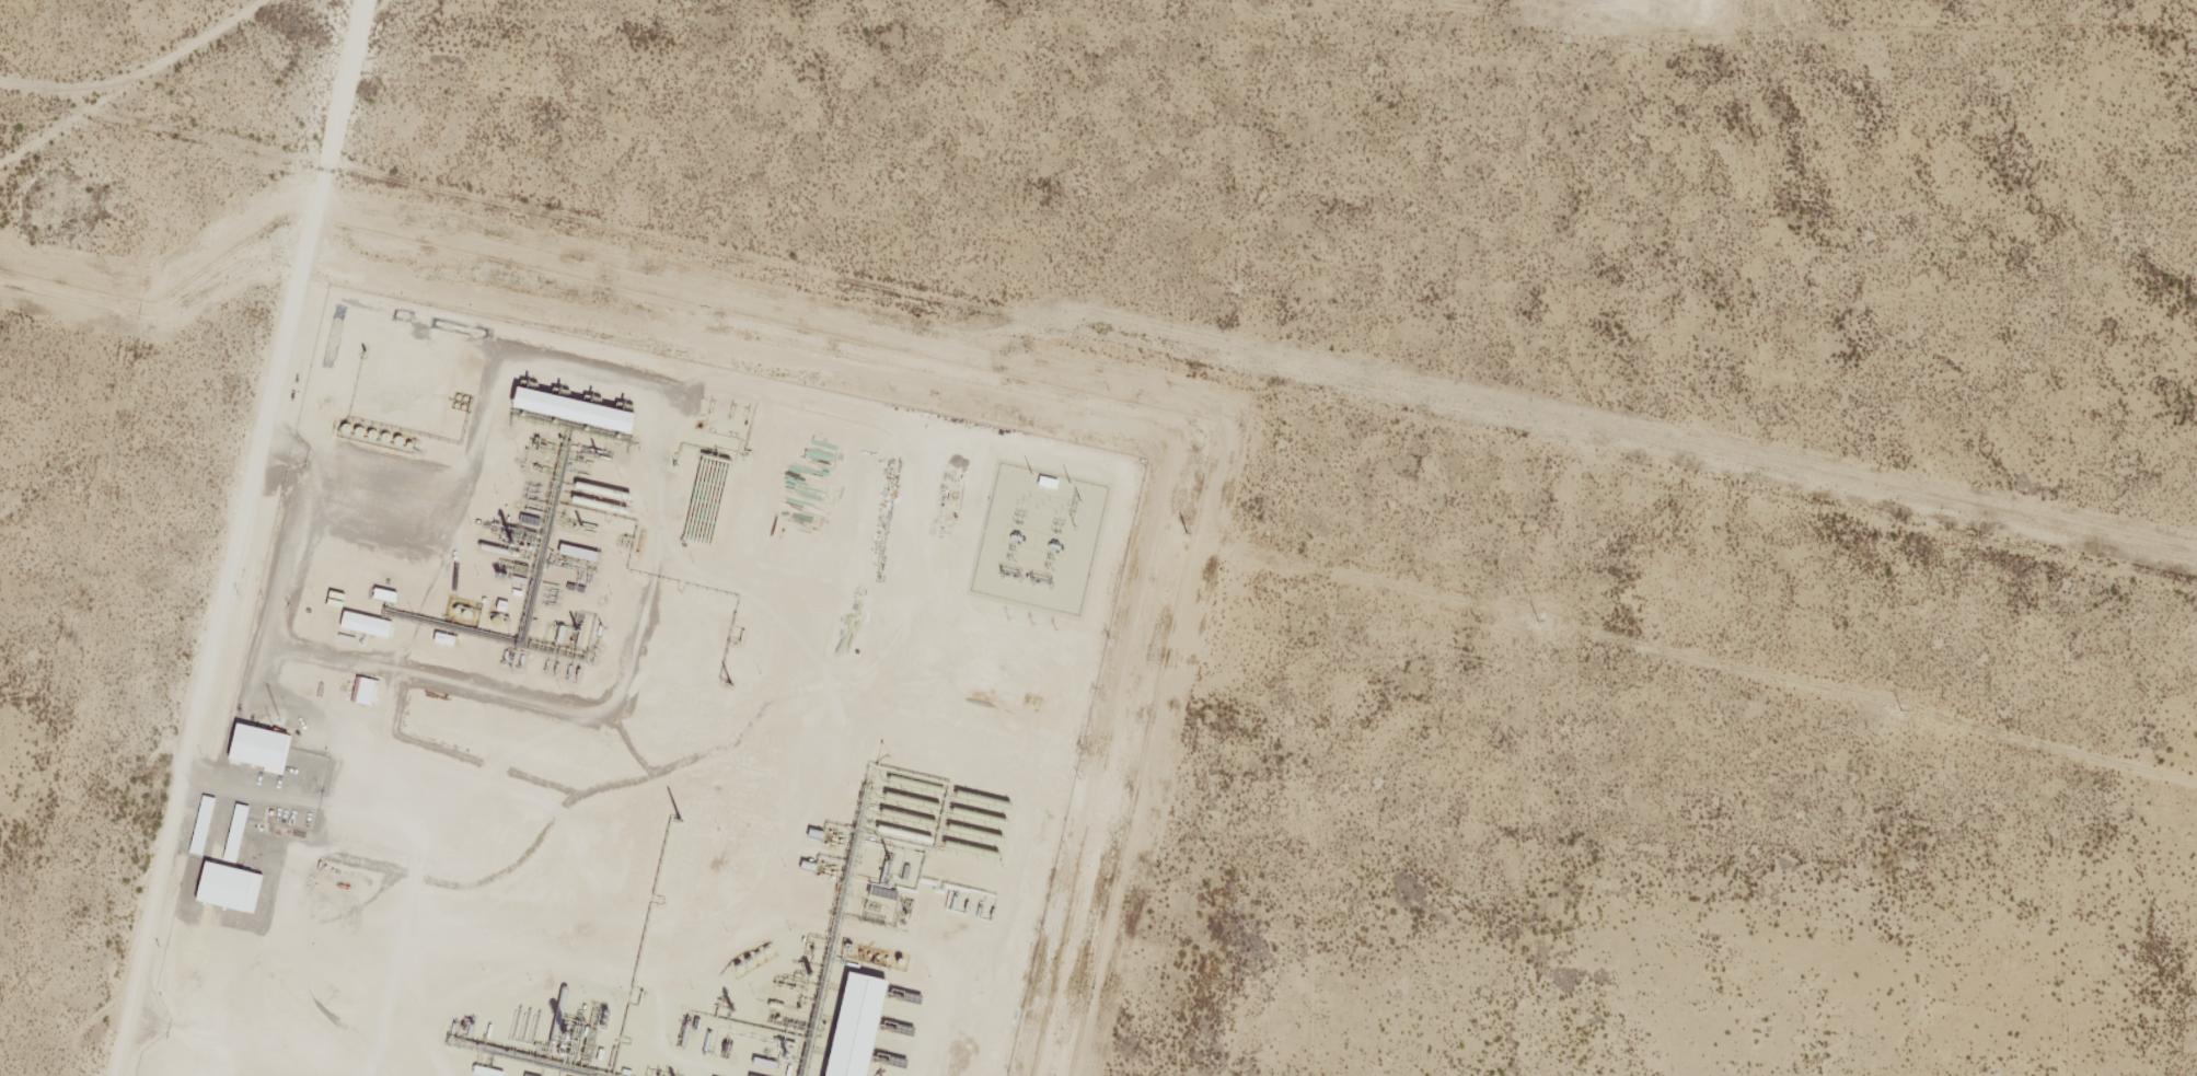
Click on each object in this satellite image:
road: (106, 58)
road: (10, 85)
building: (577, 409)
road: (244, 537)
power substation: (1041, 540)
building: (368, 624)
building: (367, 691)
building: (262, 748)
building: (204, 825)
building: (238, 833)
building: (231, 888)
building: (859, 1026)

